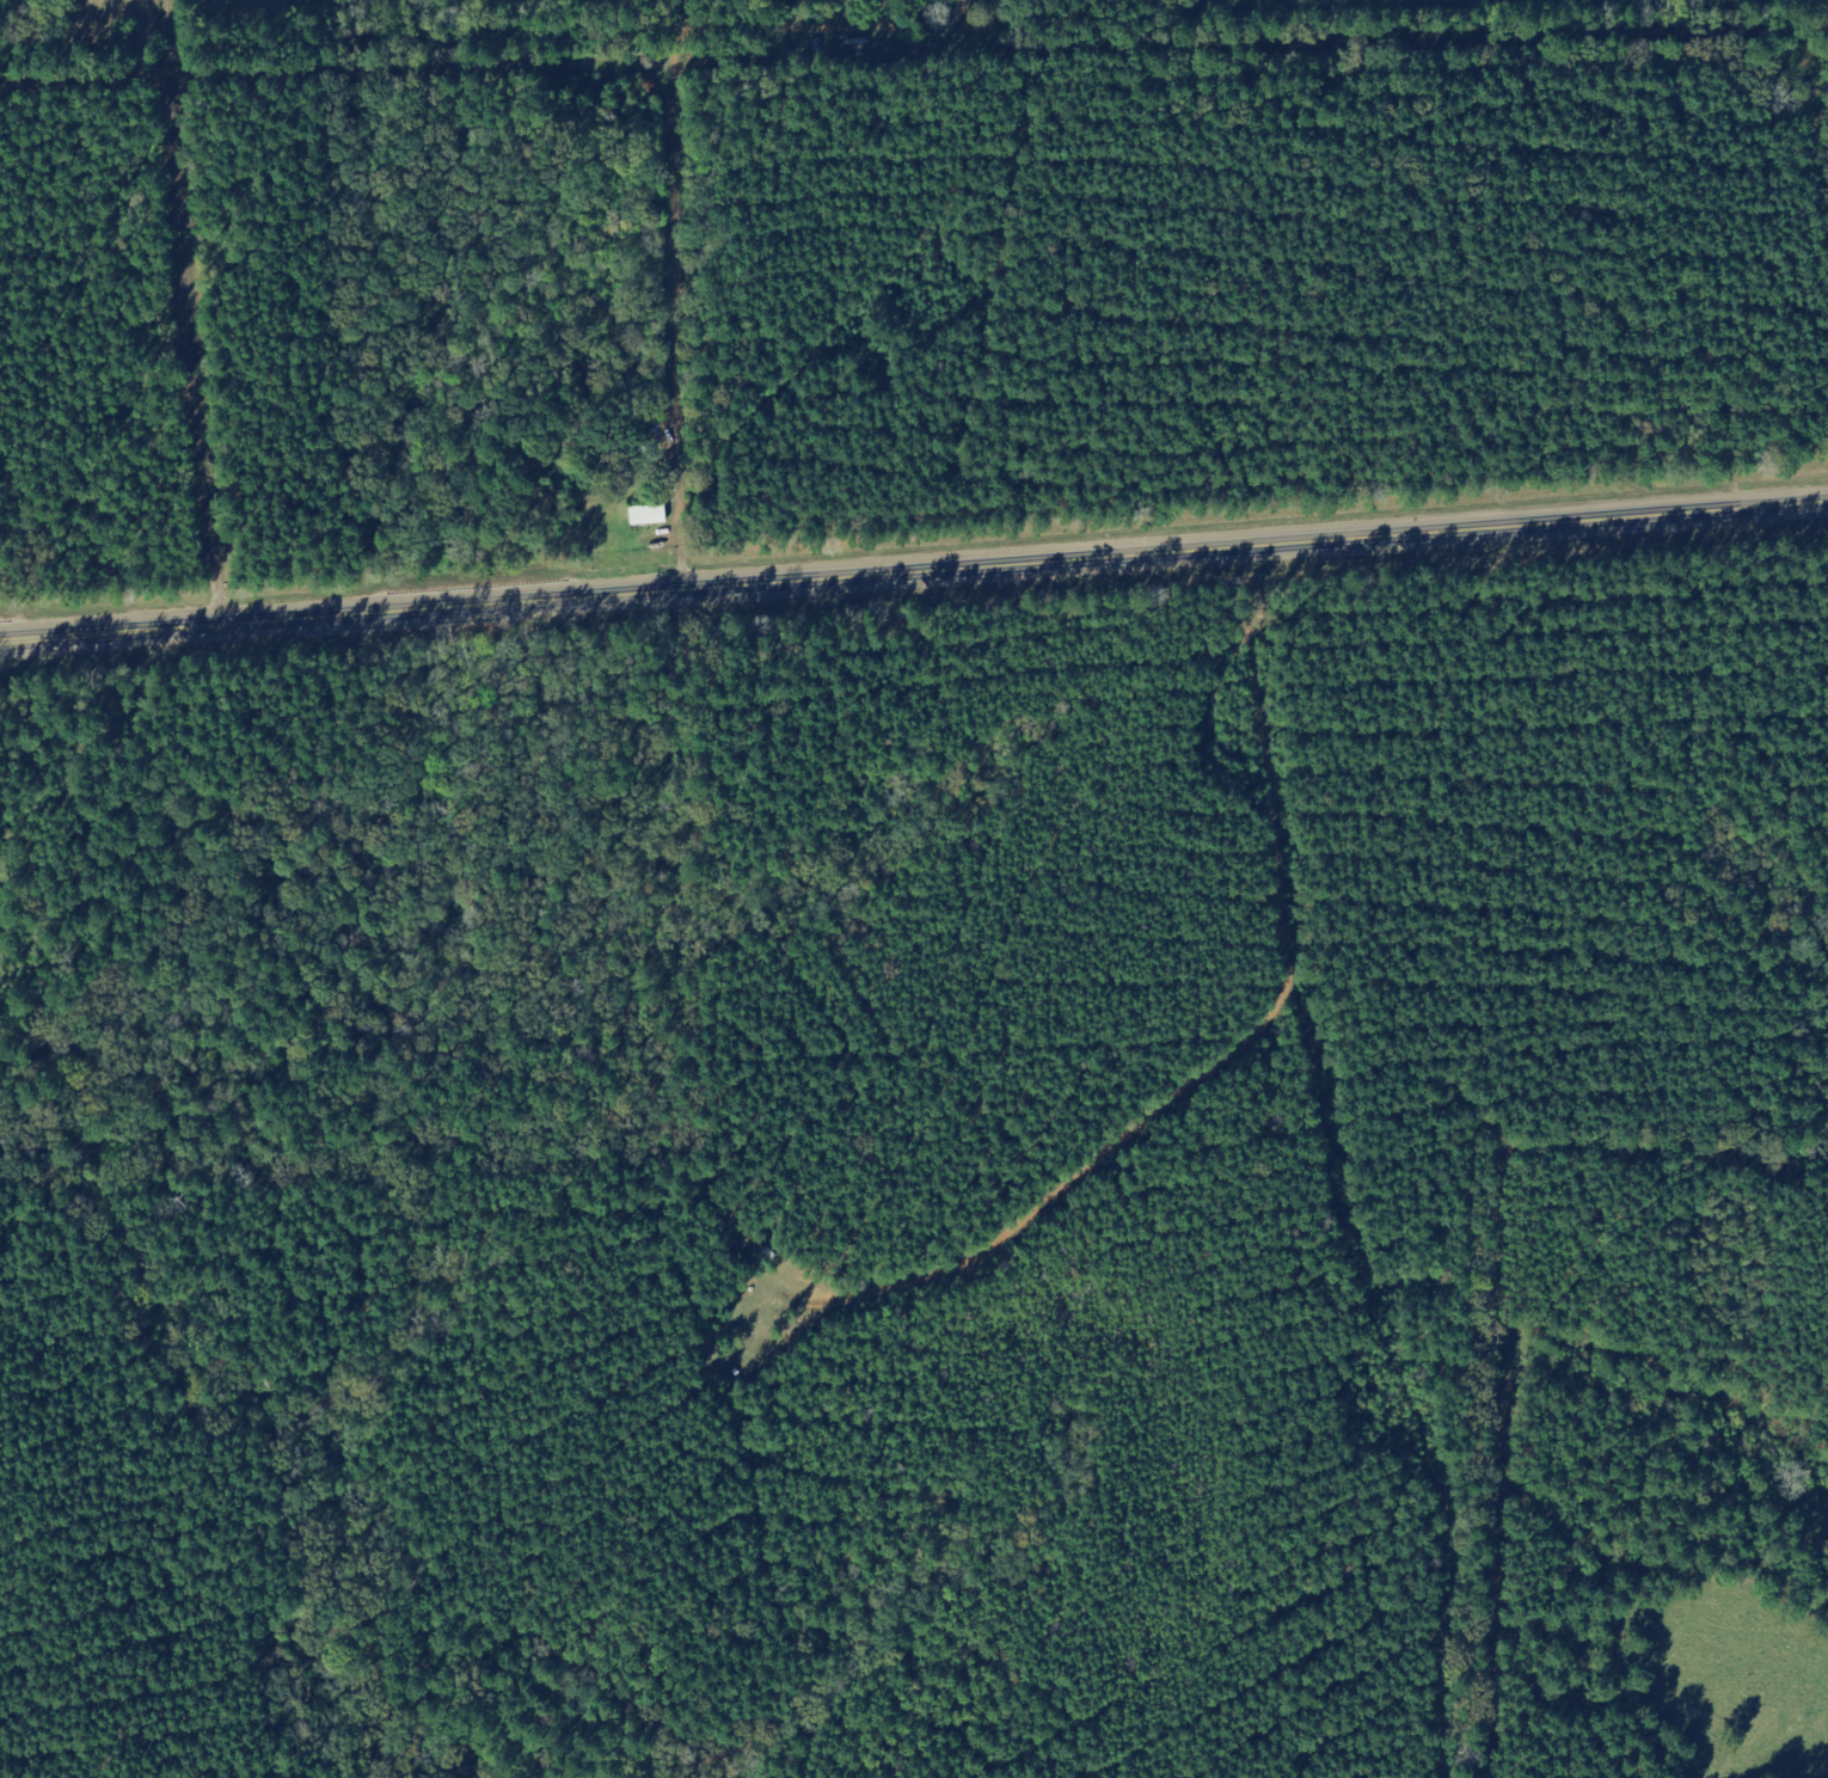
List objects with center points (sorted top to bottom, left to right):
road: (775, 24)
road: (72, 268)
road: (693, 294)
road: (913, 572)

